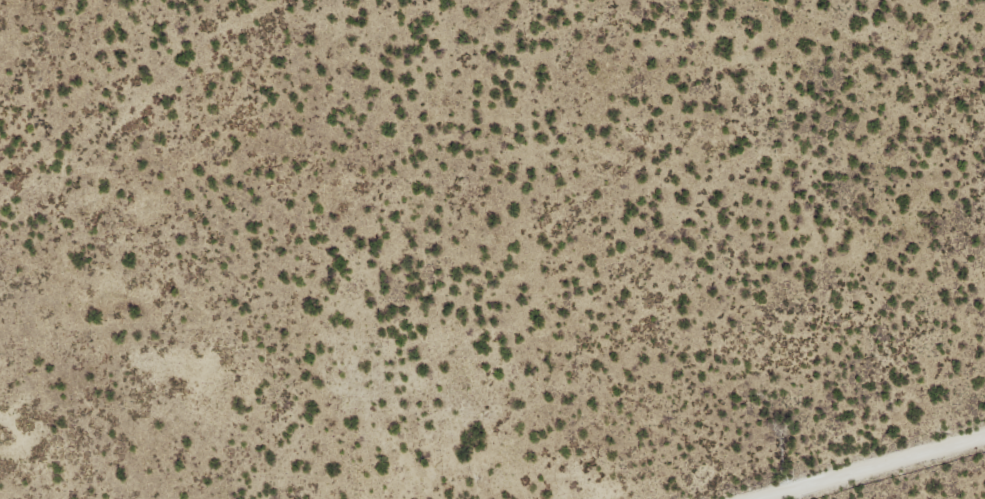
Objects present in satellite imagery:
road: (864, 463)

